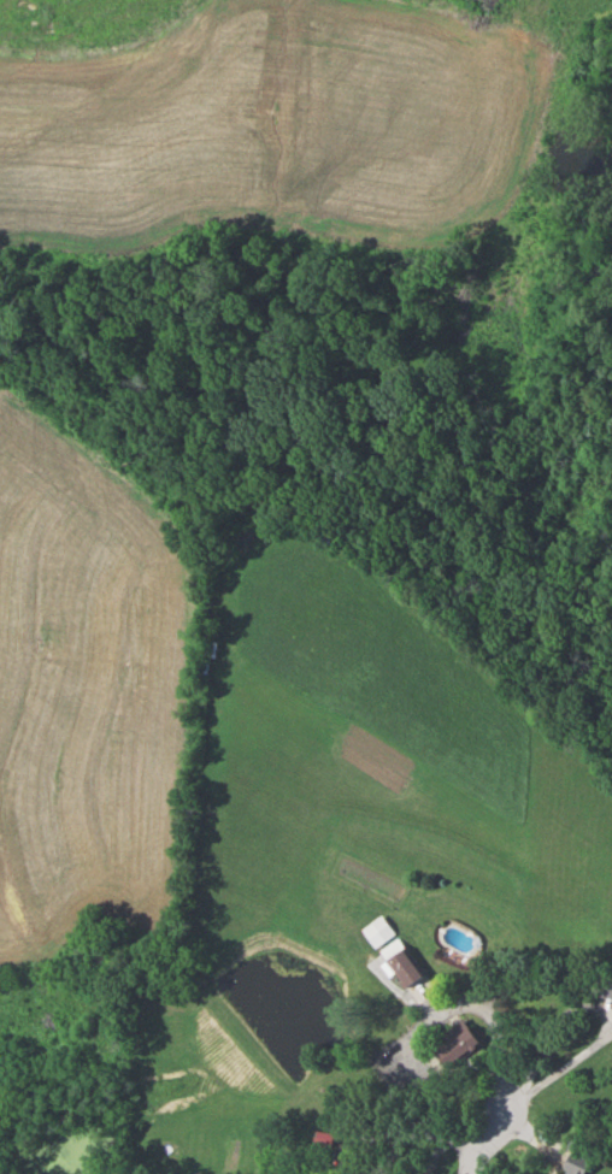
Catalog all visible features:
road: (119, 54)
building: (398, 950)
road: (505, 1032)
building: (458, 1042)
road: (555, 1075)
road: (482, 1141)
building: (575, 1163)

